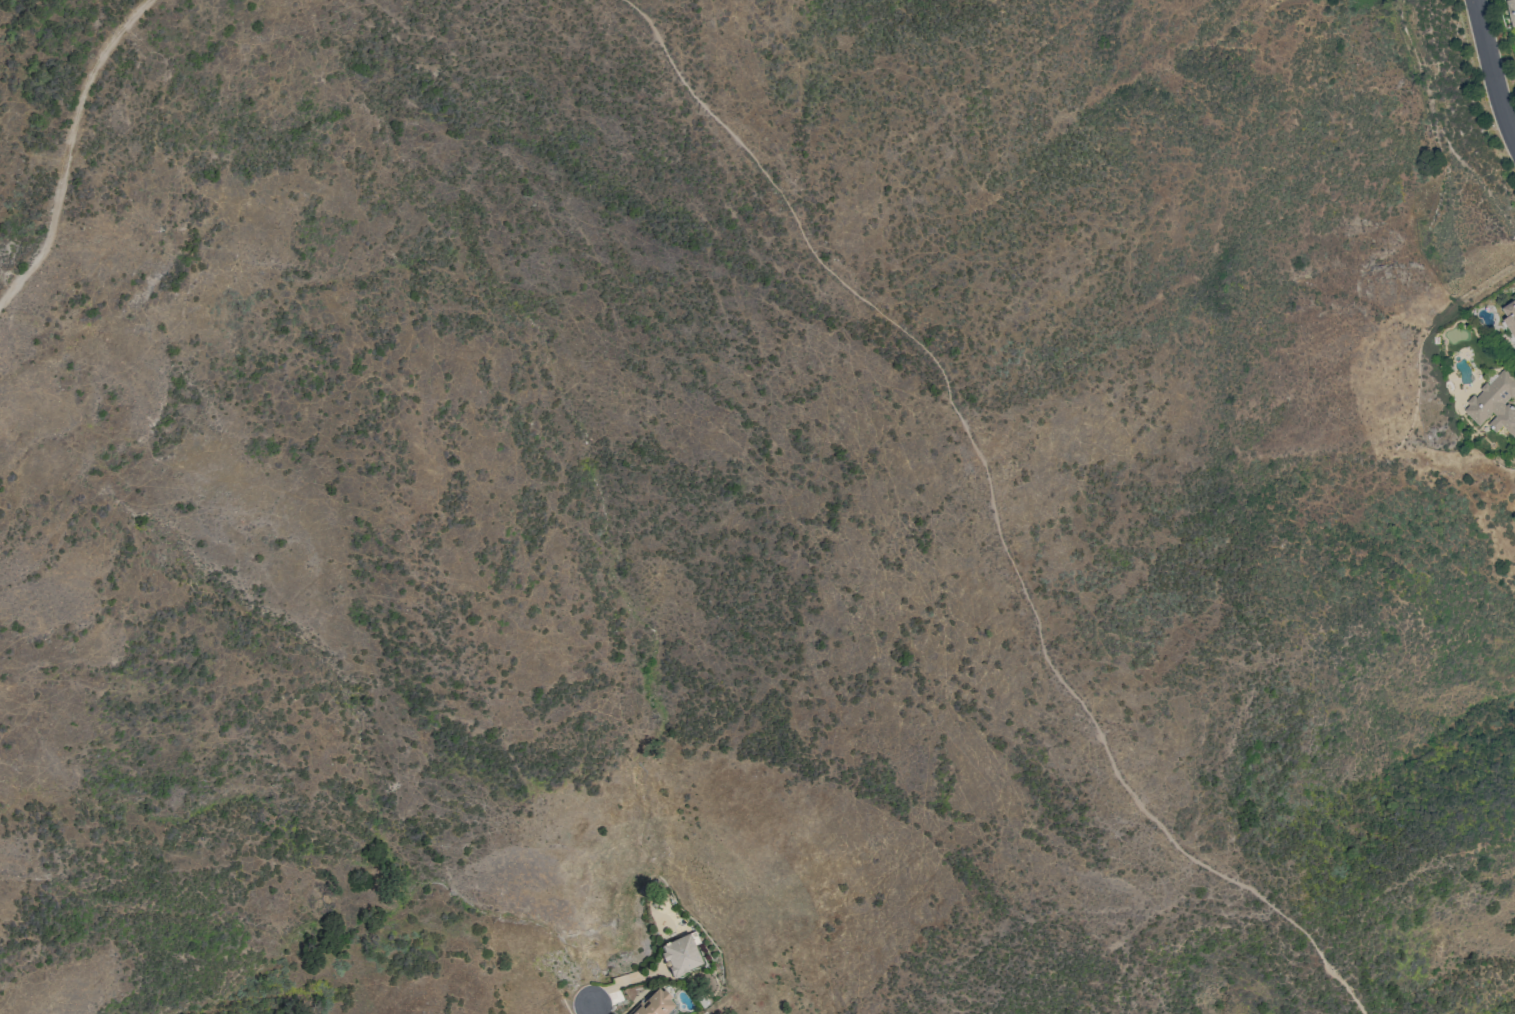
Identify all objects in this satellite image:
building: (1512, 10)
road: (1489, 69)
road: (68, 149)
building: (1510, 315)
building: (1494, 403)
road: (993, 509)
building: (680, 955)
building: (654, 1003)
road: (592, 1008)

